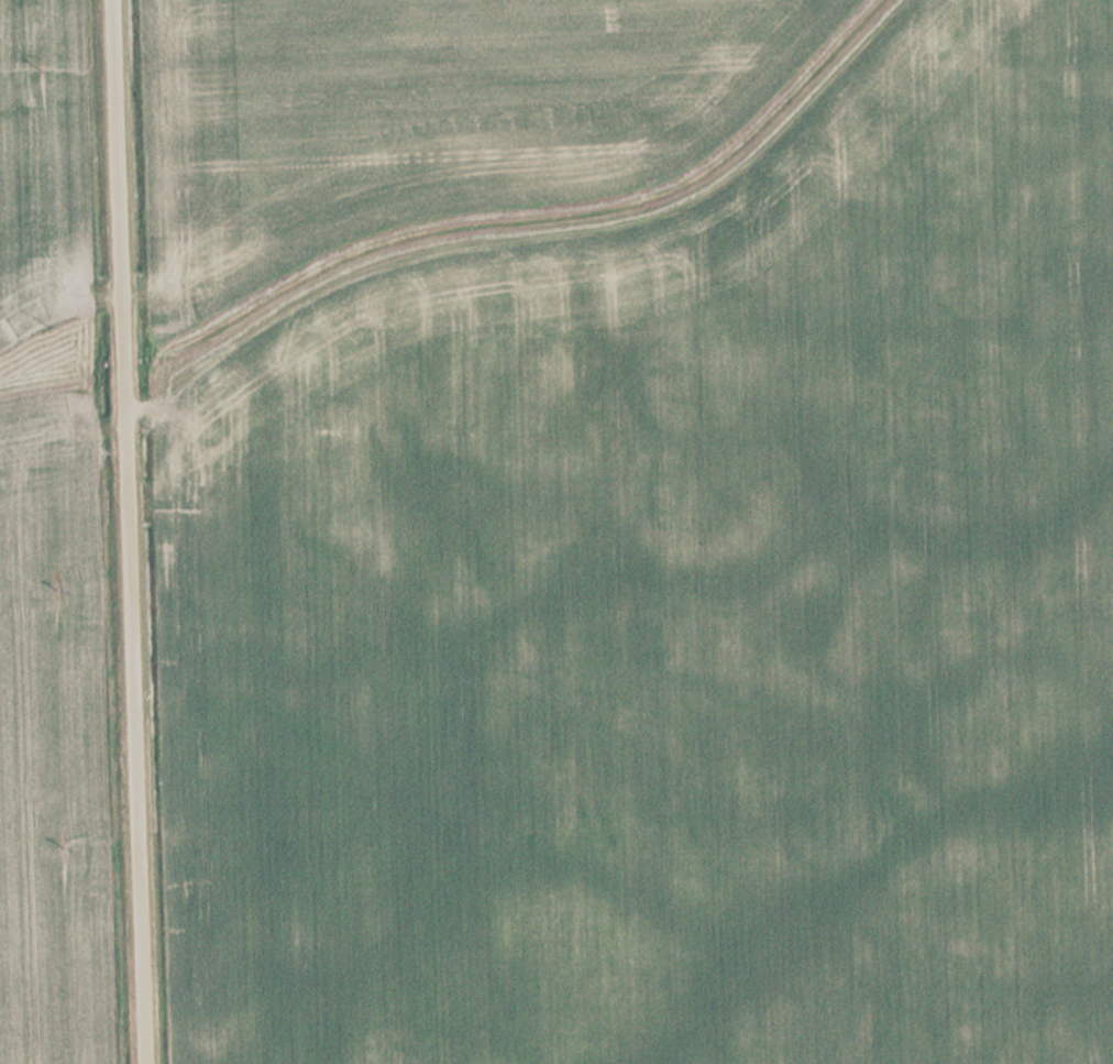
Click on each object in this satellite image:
road: (130, 531)

